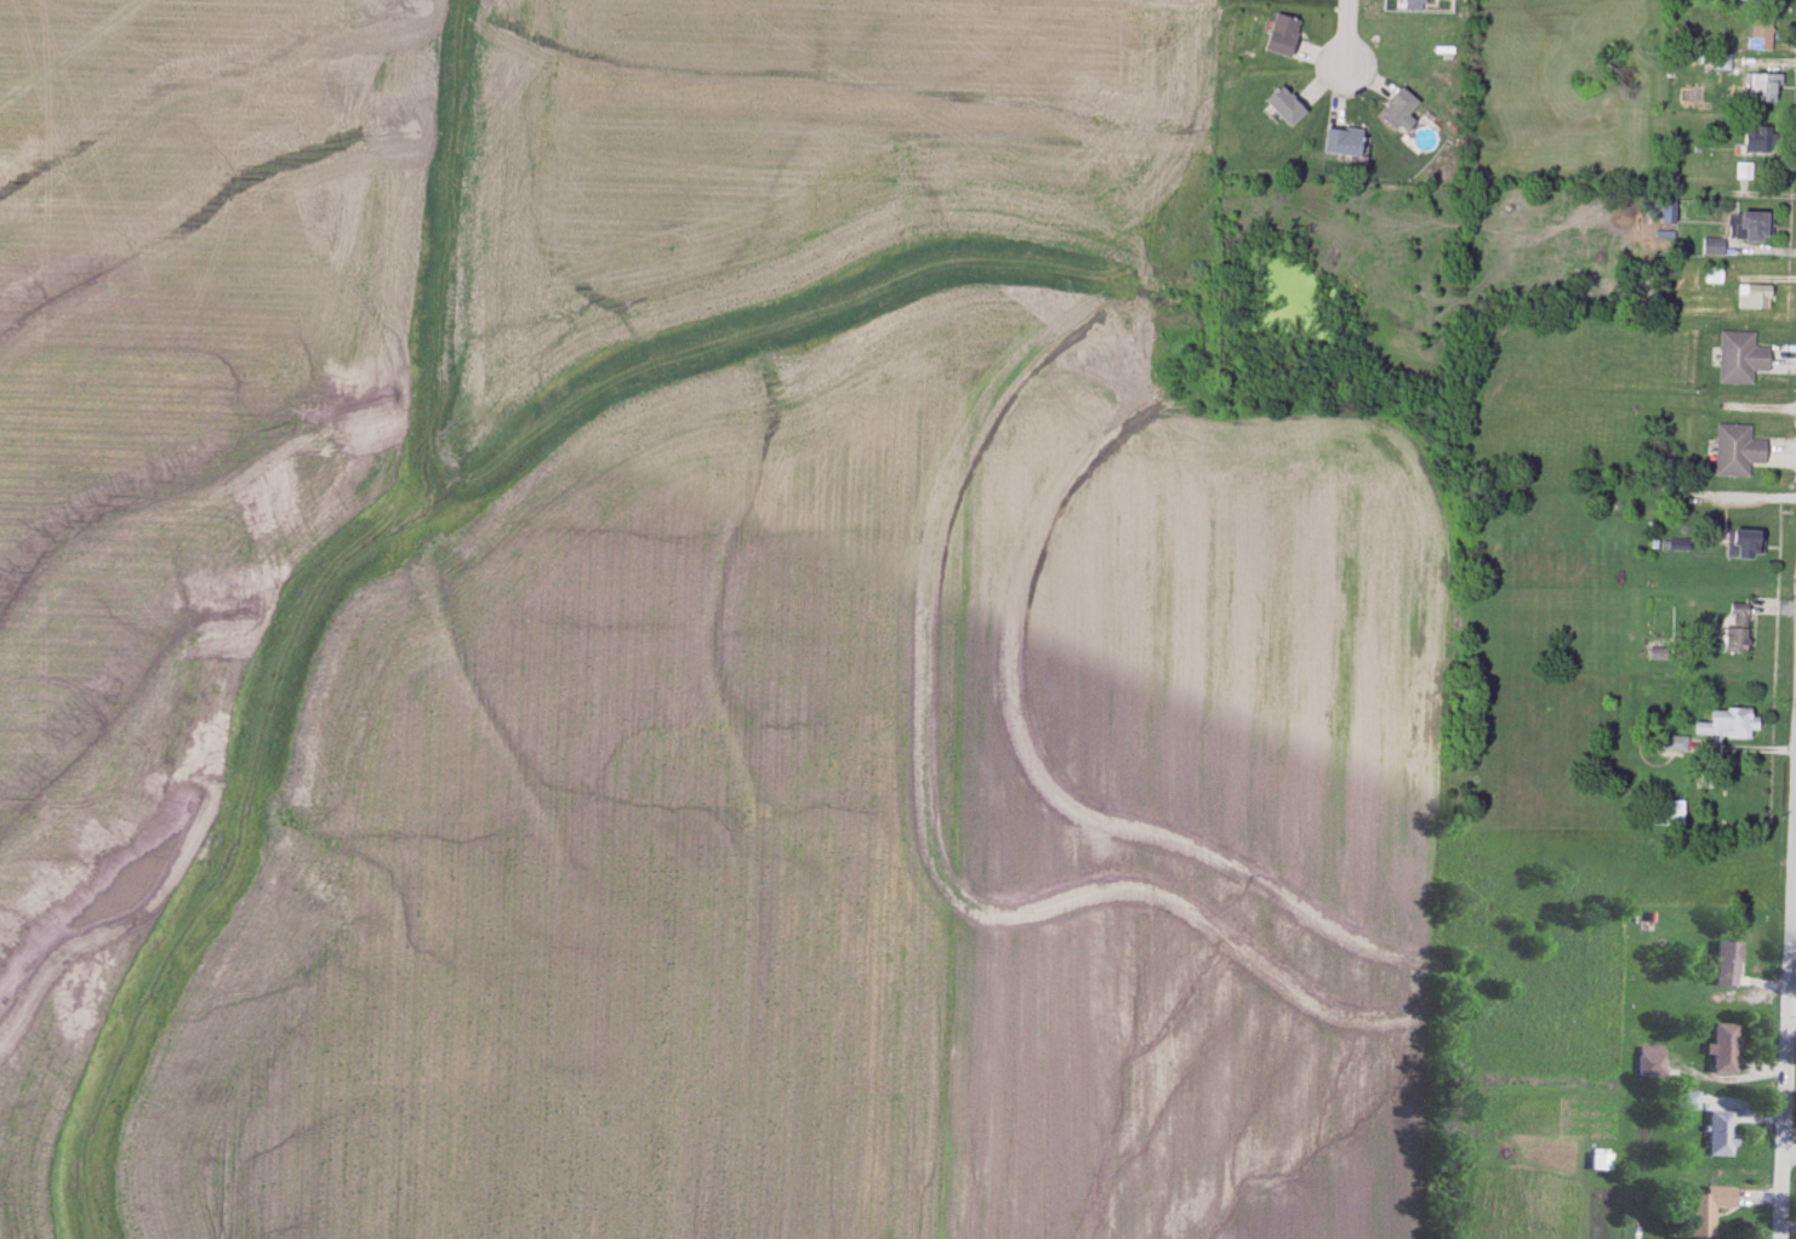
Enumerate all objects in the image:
building: (1757, 1)
road: (1349, 36)
building: (1761, 36)
building: (1284, 38)
building: (1615, 61)
building: (1721, 63)
building: (1762, 90)
building: (1287, 108)
building: (1399, 110)
building: (1757, 138)
building: (1344, 143)
building: (1744, 172)
building: (1749, 228)
building: (1755, 301)
building: (1741, 359)
building: (1737, 451)
road: (1630, 503)
building: (1745, 546)
building: (1737, 632)
building: (1728, 725)
building: (1674, 744)
building: (1667, 813)
road: (1794, 925)
building: (1728, 961)
road: (1786, 1005)
road: (1791, 1005)
building: (1726, 1046)
building: (1652, 1060)
building: (1689, 1098)
building: (1722, 1131)
building: (1602, 1159)
road: (1789, 1163)
building: (1707, 1209)

